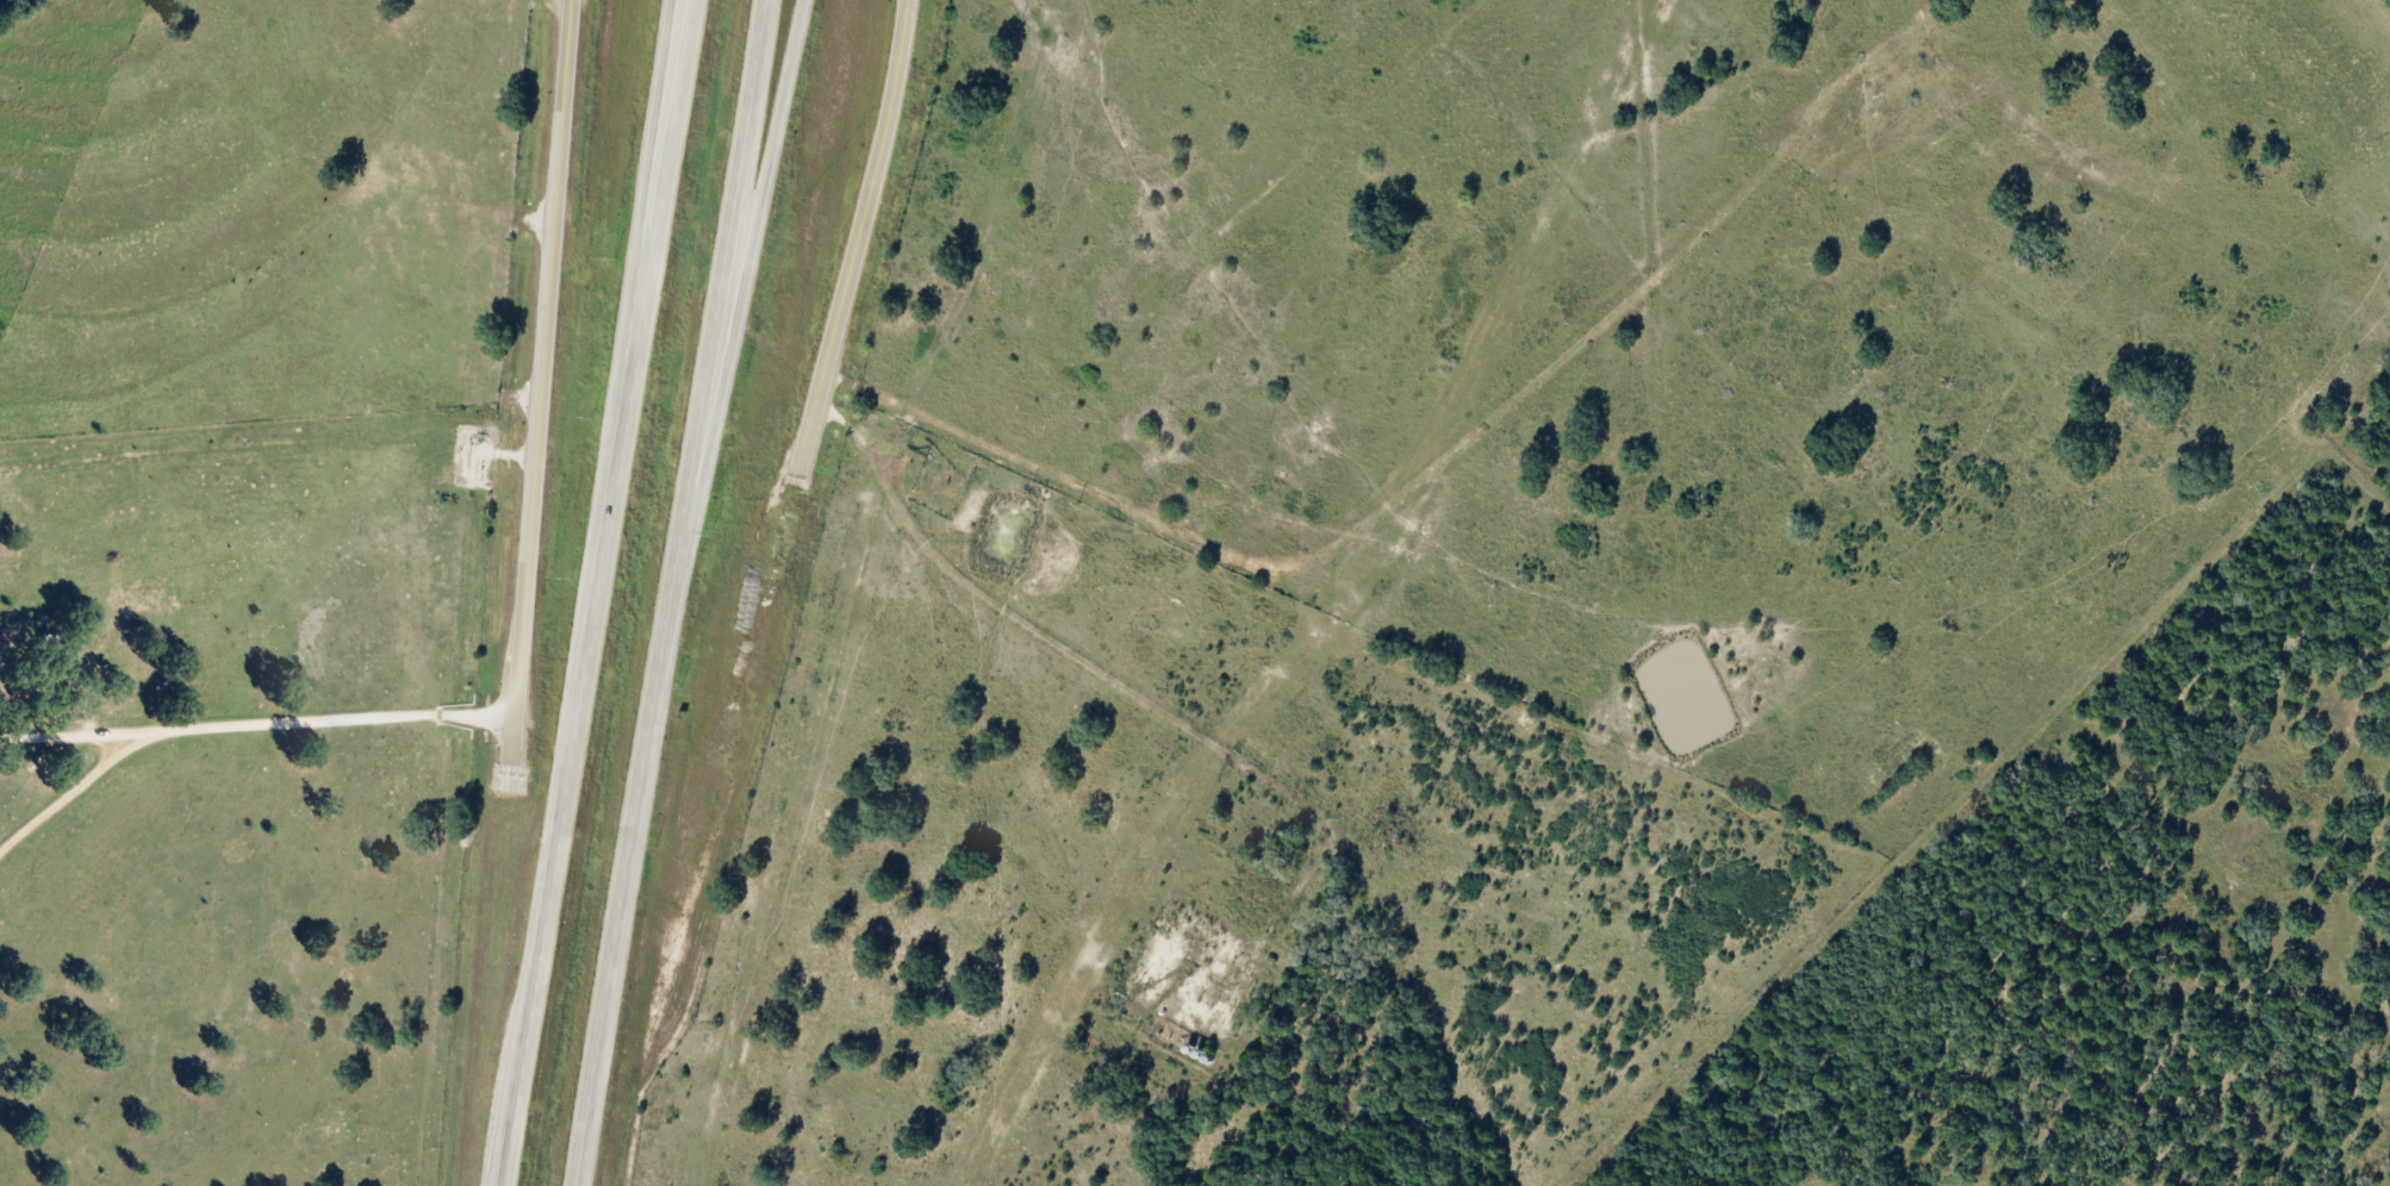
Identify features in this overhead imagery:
road: (639, 238)
road: (857, 239)
road: (729, 342)
road: (542, 380)
road: (596, 592)
road: (666, 592)
road: (257, 723)

